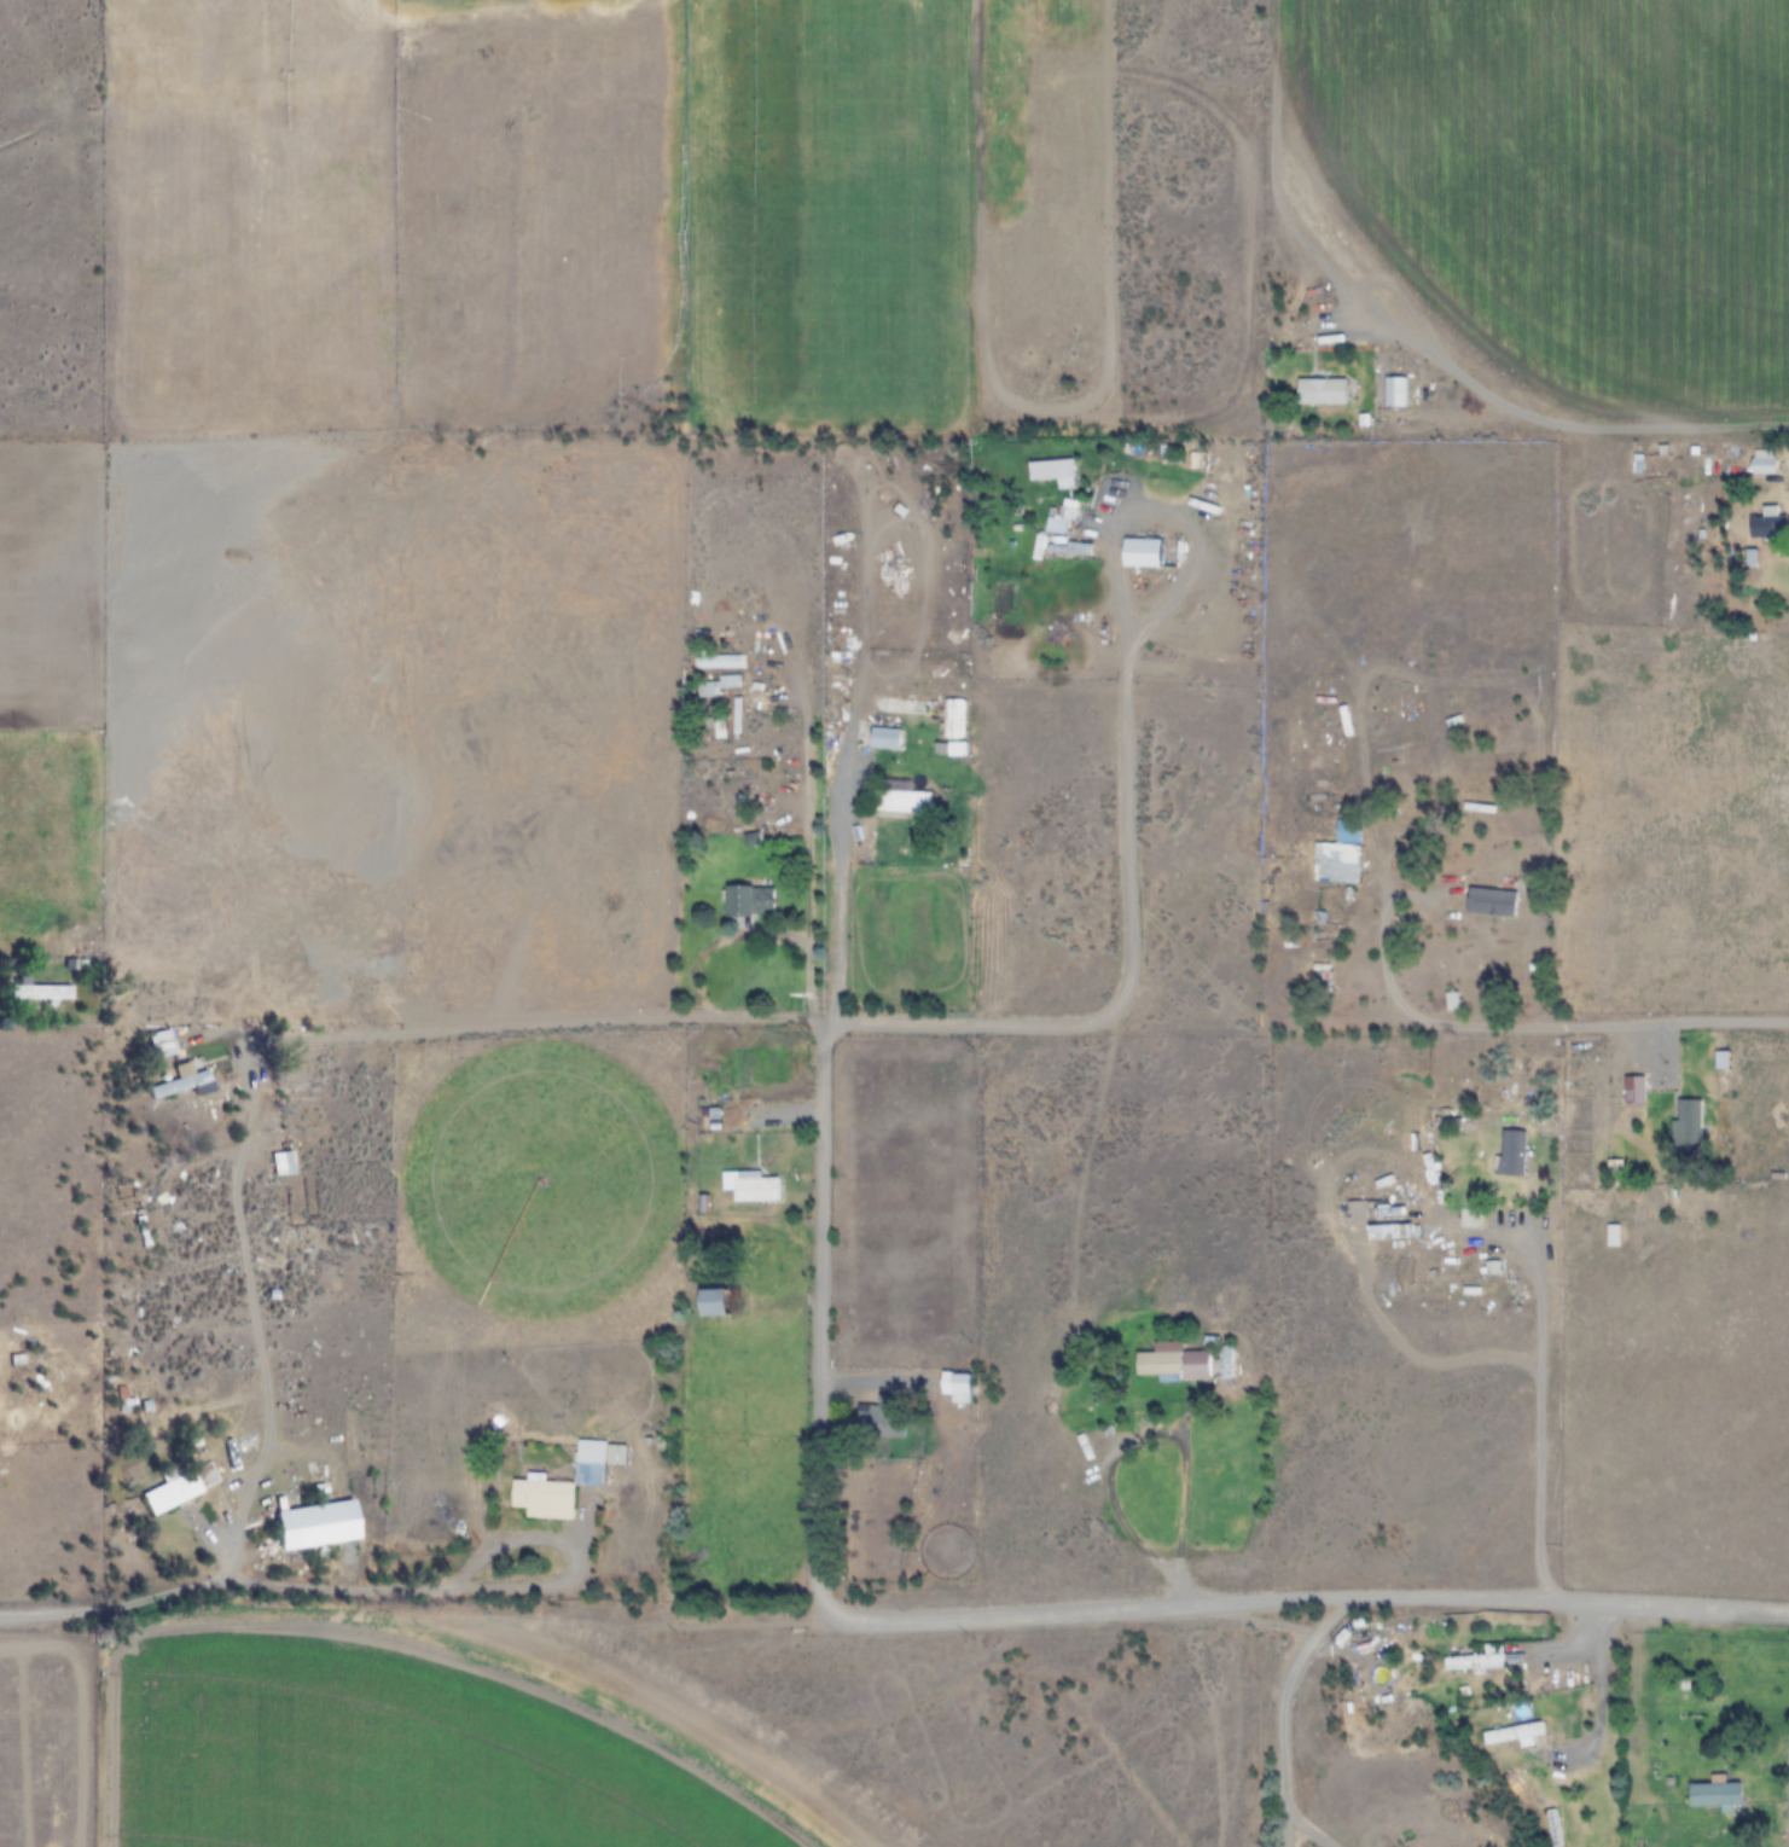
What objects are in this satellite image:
building: (1324, 391)
building: (1398, 391)
building: (1764, 461)
building: (1053, 472)
building: (1770, 523)
building: (1057, 527)
building: (1143, 552)
building: (721, 662)
building: (721, 686)
building: (953, 719)
building: (887, 738)
building: (902, 797)
building: (1338, 864)
building: (753, 902)
building: (1494, 902)
crop: (894, 923)
building: (1325, 981)
building: (41, 992)
road: (1654, 1026)
road: (890, 1028)
building: (161, 1045)
building: (186, 1085)
building: (1636, 1090)
building: (1689, 1126)
building: (1512, 1155)
building: (285, 1164)
building: (756, 1186)
building: (1392, 1231)
building: (714, 1302)
road: (813, 1328)
building: (1173, 1364)
building: (18, 1365)
building: (1225, 1375)
building: (962, 1387)
building: (881, 1418)
building: (592, 1480)
building: (1553, 1486)
building: (182, 1488)
building: (316, 1526)
road: (1481, 1597)
road: (587, 1620)
building: (1479, 1660)
road: (1273, 1707)
building: (1517, 1733)
building: (1715, 1794)
building: (1555, 1828)

